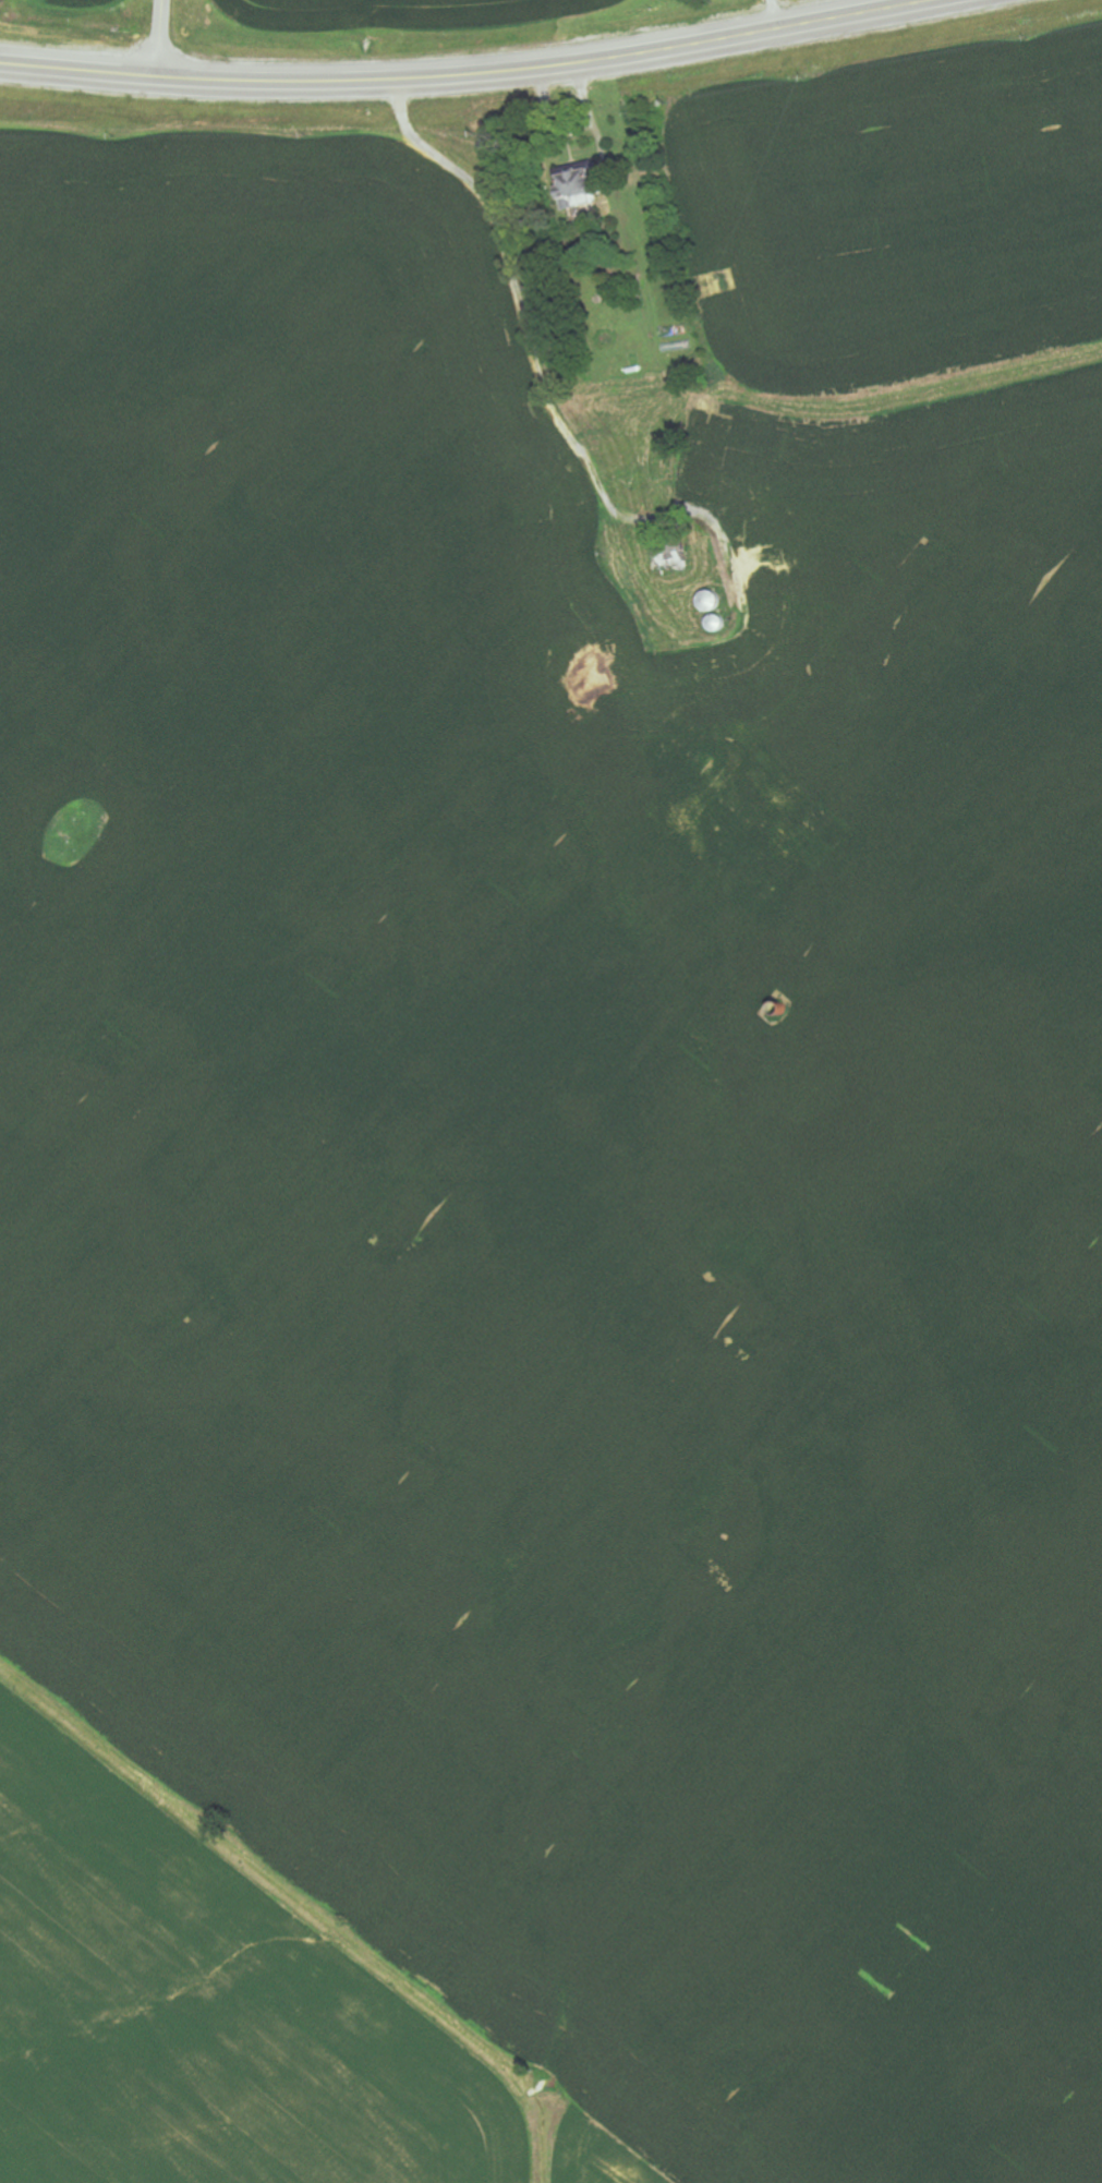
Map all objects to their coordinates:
road: (161, 24)
road: (401, 61)
park: (77, 834)

